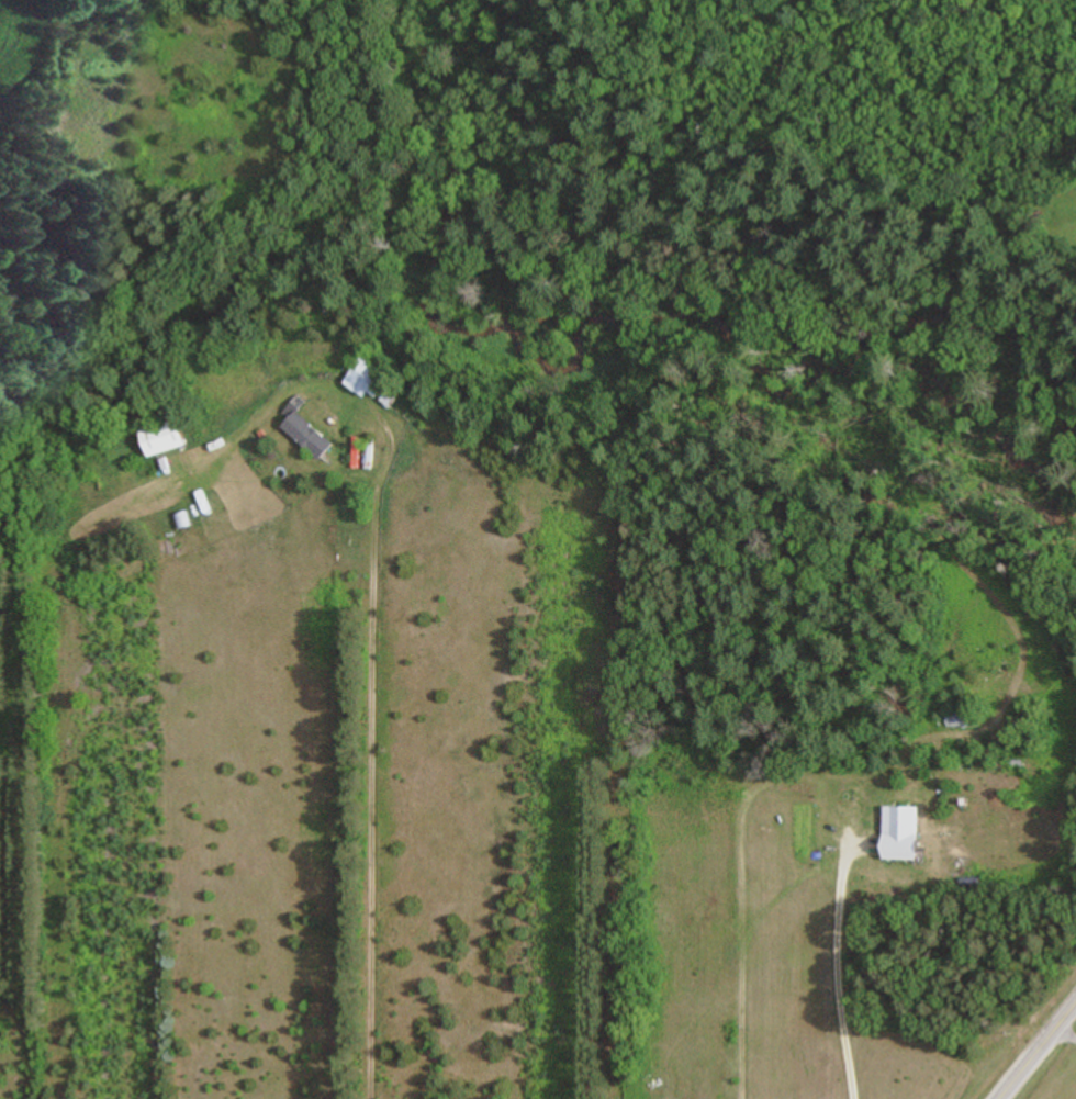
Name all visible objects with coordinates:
building: (304, 437)
building: (159, 440)
road: (1061, 1035)
road: (1036, 1047)

